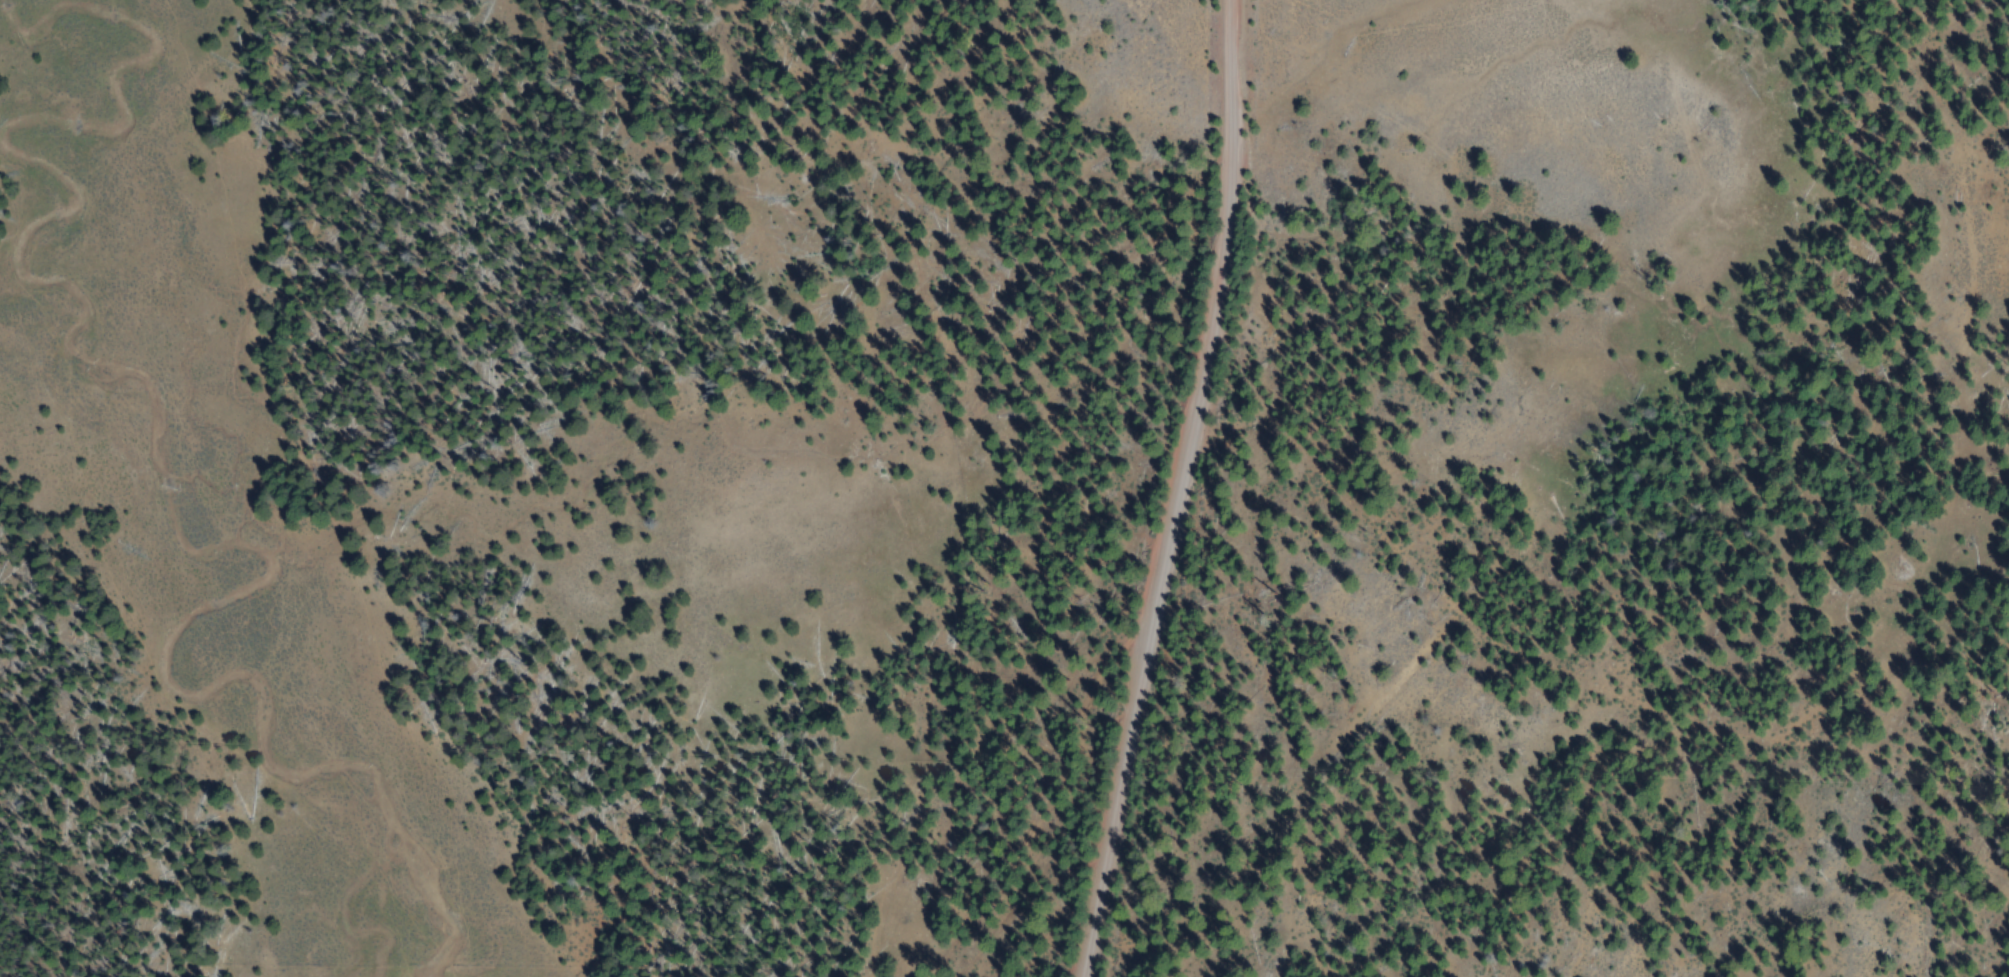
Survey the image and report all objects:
road: (1179, 491)
road: (1109, 962)

